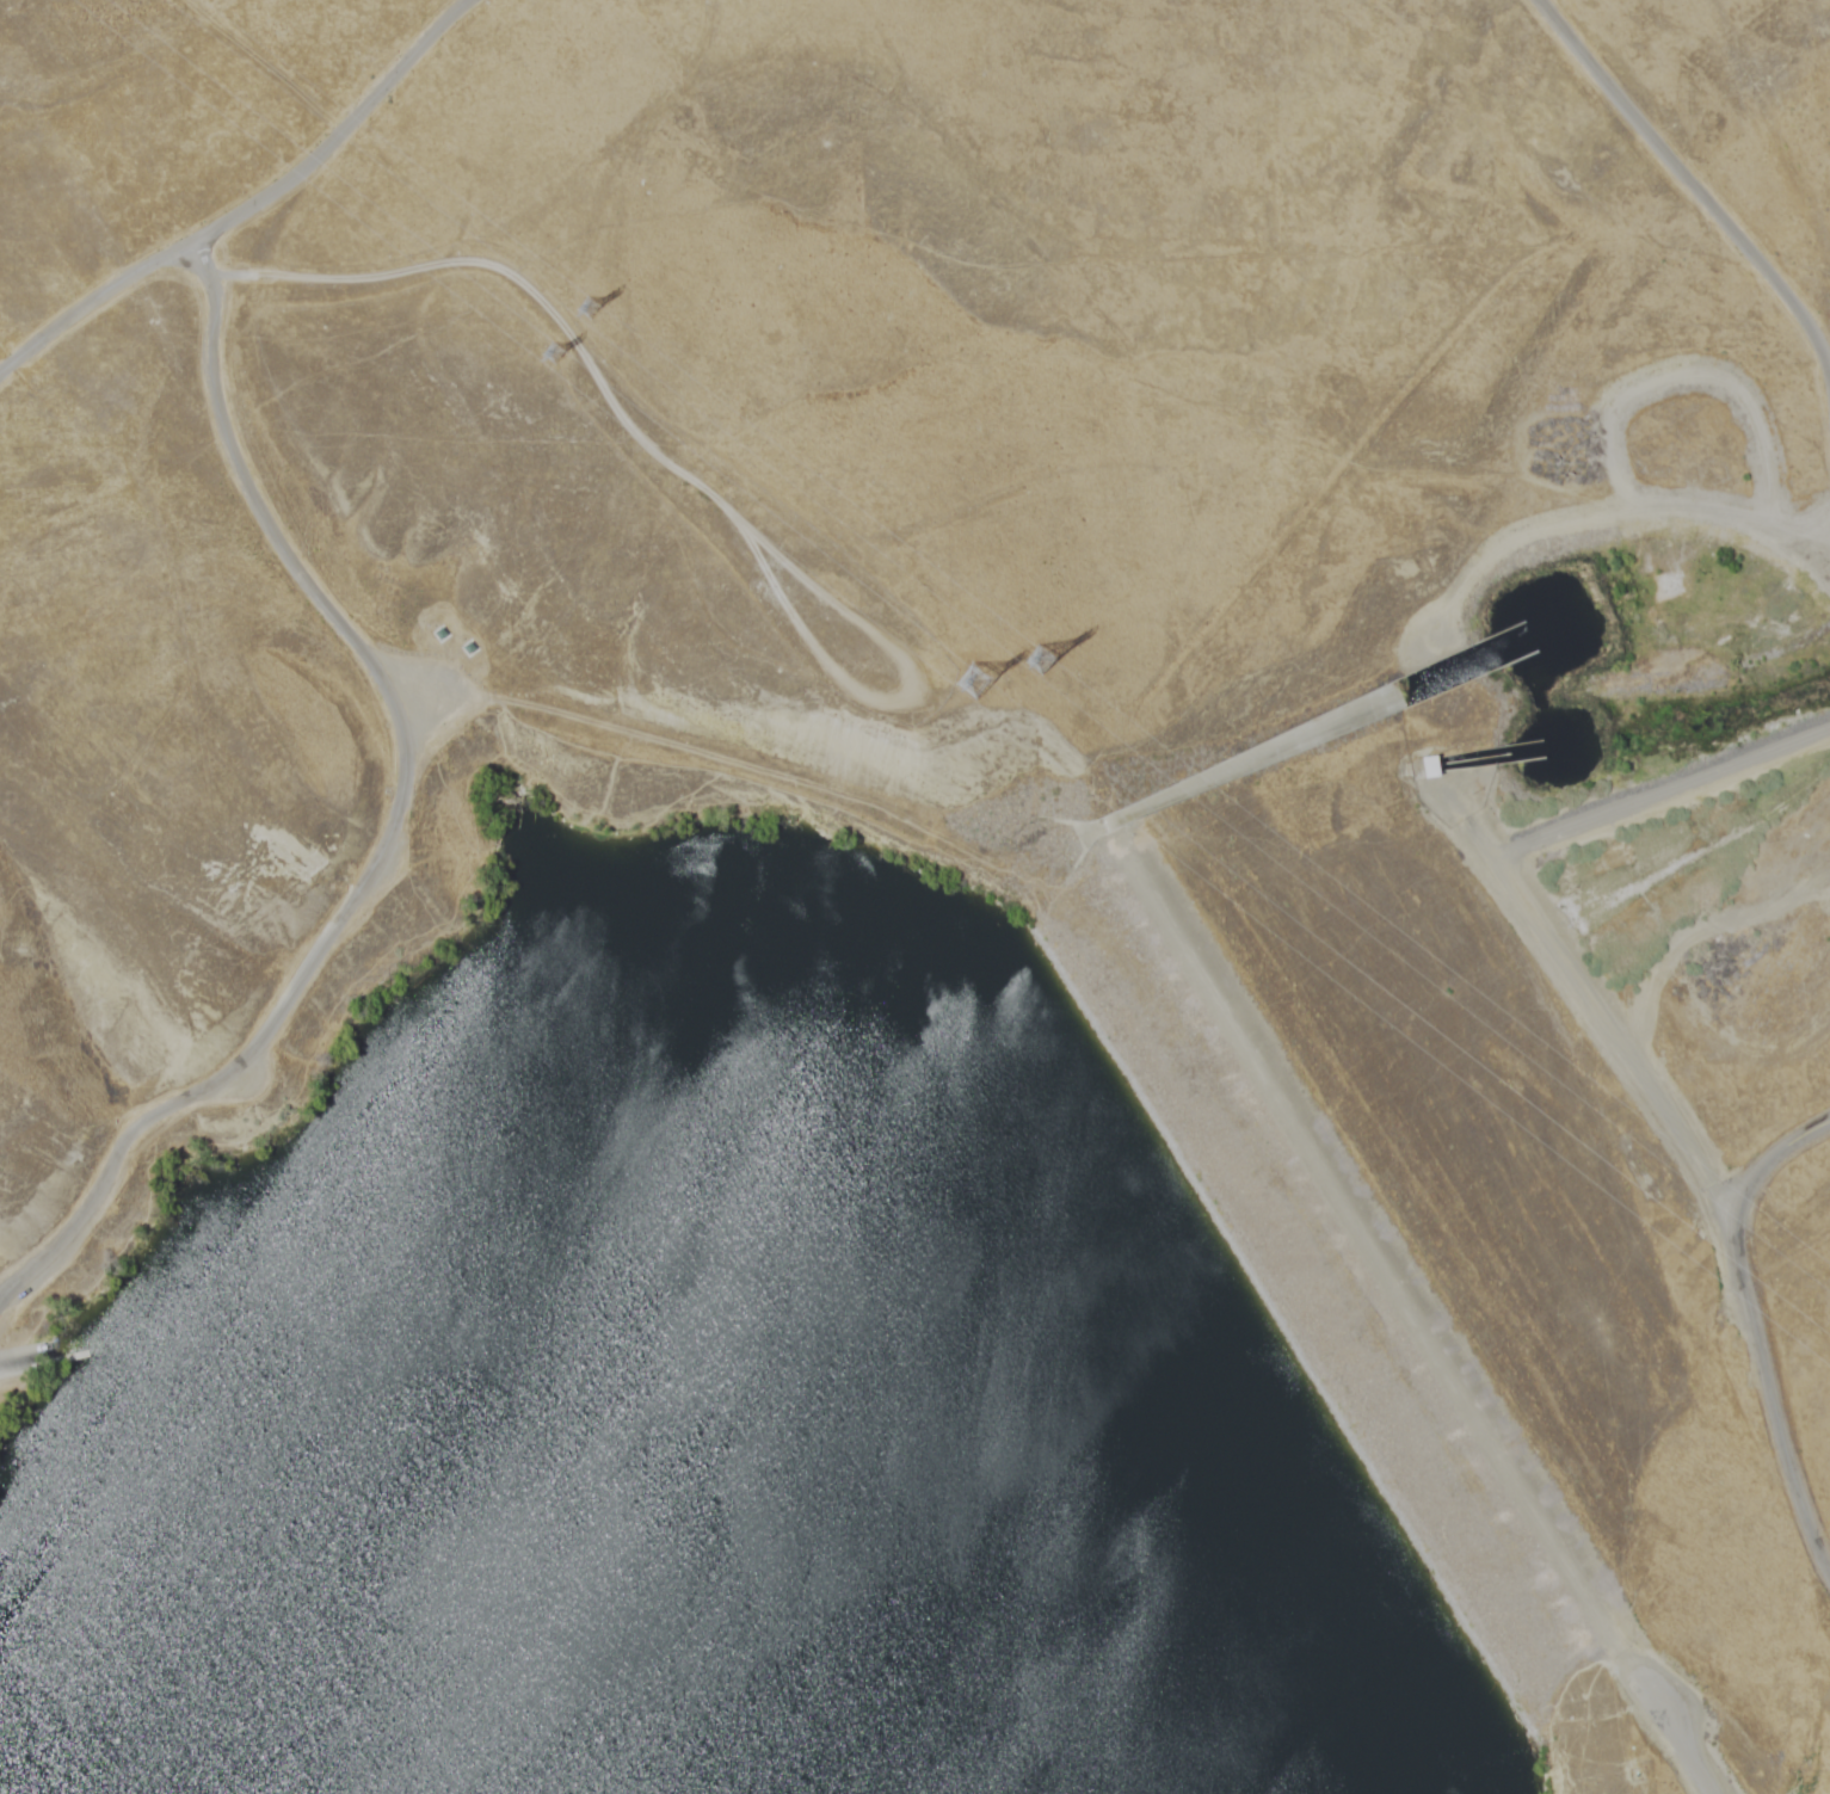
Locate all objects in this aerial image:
road: (1687, 173)
road: (253, 206)
power tower: (587, 307)
power tower: (547, 357)
road: (652, 442)
power tower: (1034, 655)
power tower: (975, 677)
road: (401, 822)
park: (914, 896)
road: (1589, 1001)
road: (1786, 1148)
road: (1395, 1254)
dam: (1362, 1282)
pier: (92, 1361)
road: (1764, 1380)
road: (158, 1540)
road: (1684, 1731)

